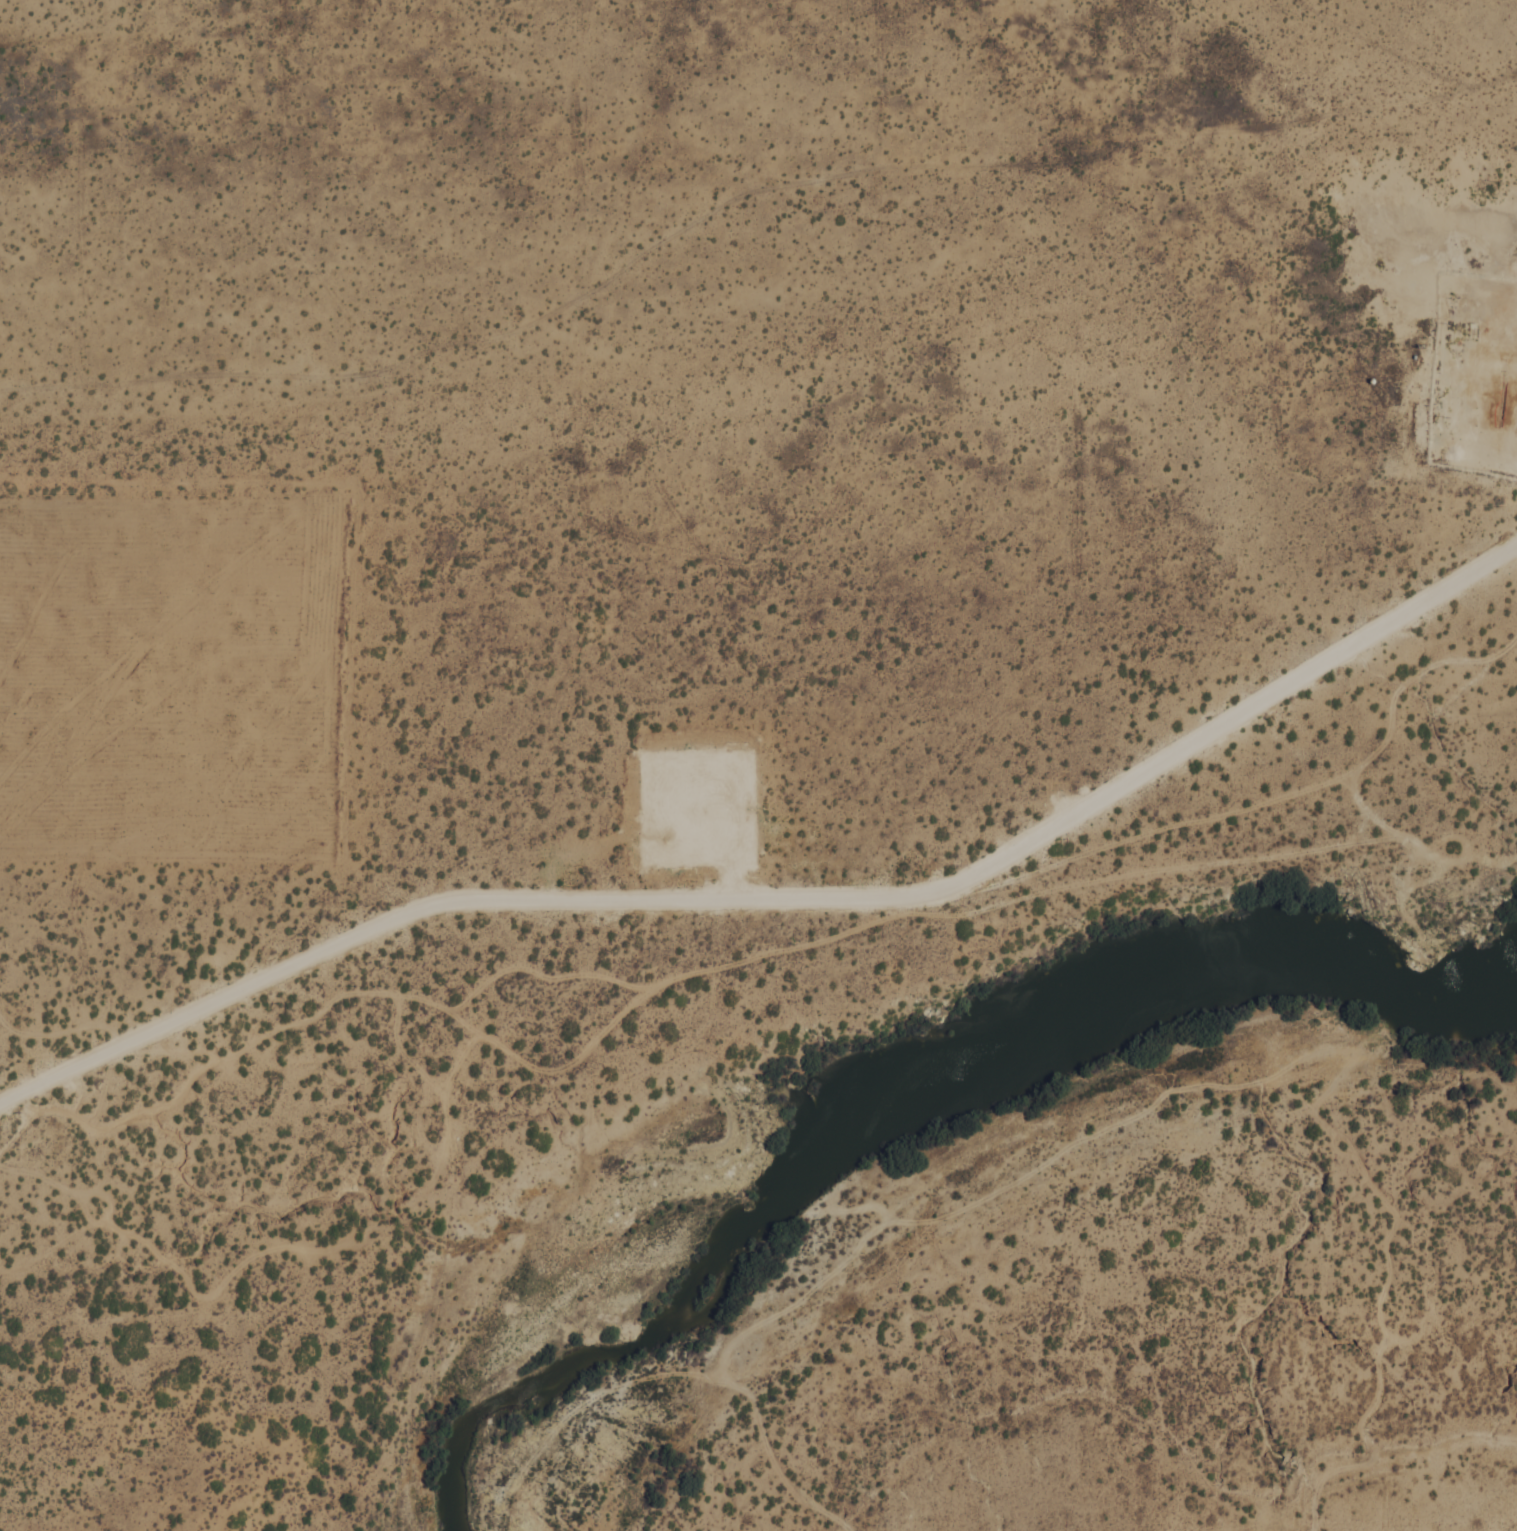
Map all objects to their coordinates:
road: (1485, 434)
road: (676, 555)
road: (1367, 812)
road: (1210, 864)
road: (1007, 882)
road: (358, 994)
road: (1219, 1089)
river: (890, 1097)
road: (788, 1267)
road: (687, 1378)

